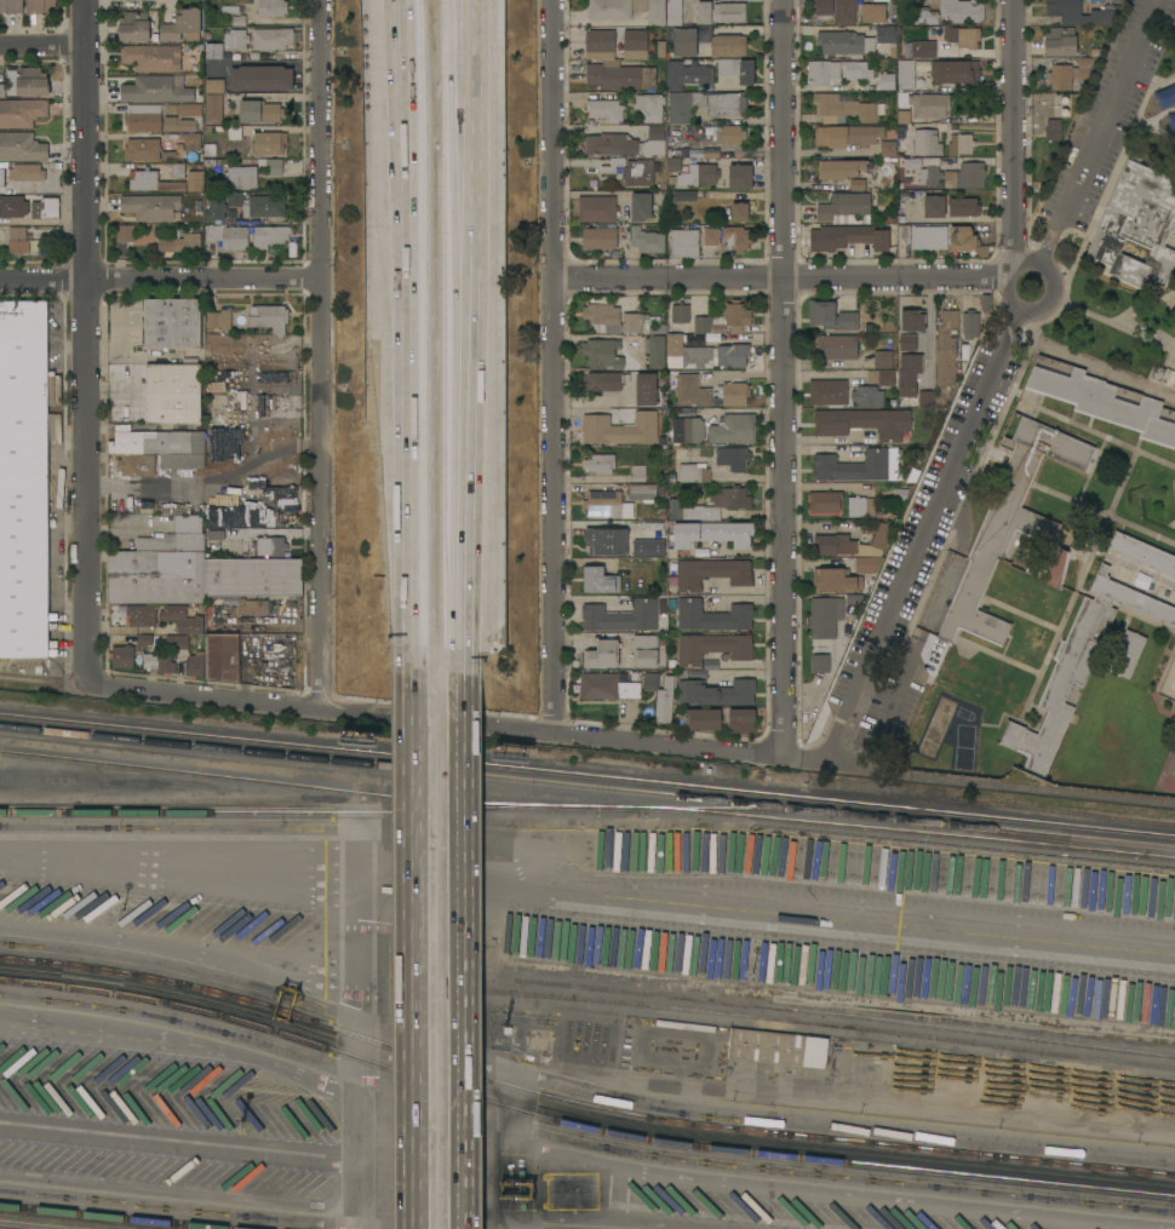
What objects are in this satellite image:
building: (640, 5)
building: (11, 6)
building: (39, 6)
building: (270, 7)
building: (609, 10)
building: (718, 11)
building: (835, 11)
building: (962, 11)
building: (657, 12)
building: (872, 12)
building: (1079, 12)
building: (924, 16)
building: (237, 21)
building: (134, 25)
building: (183, 25)
building: (681, 29)
building: (885, 34)
building: (964, 36)
building: (235, 38)
building: (274, 38)
building: (635, 39)
building: (600, 40)
building: (1060, 41)
building: (841, 42)
road: (42, 45)
building: (728, 45)
building: (929, 47)
building: (213, 50)
building: (150, 56)
building: (738, 69)
building: (856, 69)
building: (955, 70)
building: (822, 71)
building: (1082, 71)
building: (686, 74)
building: (905, 74)
building: (620, 76)
building: (1060, 76)
building: (262, 77)
building: (31, 81)
building: (887, 81)
building: (214, 85)
building: (155, 90)
building: (1163, 96)
building: (929, 104)
building: (649, 107)
building: (213, 108)
building: (727, 108)
building: (606, 109)
building: (842, 109)
building: (22, 111)
building: (259, 111)
building: (156, 114)
building: (902, 117)
building: (1170, 121)
building: (178, 124)
road: (402, 127)
road: (414, 127)
building: (1053, 128)
road: (458, 130)
road: (463, 131)
road: (1099, 132)
building: (729, 134)
building: (847, 134)
road: (1014, 137)
building: (187, 139)
building: (269, 142)
building: (927, 142)
building: (626, 143)
building: (961, 143)
building: (22, 147)
building: (888, 148)
building: (142, 149)
building: (672, 161)
building: (274, 166)
building: (841, 168)
building: (177, 171)
building: (929, 171)
building: (27, 172)
building: (638, 172)
building: (698, 174)
building: (965, 176)
building: (2, 177)
building: (240, 177)
building: (740, 177)
building: (195, 180)
building: (150, 182)
building: (861, 184)
building: (684, 195)
building: (916, 197)
building: (256, 205)
building: (12, 206)
building: (150, 206)
building: (641, 206)
building: (934, 206)
building: (963, 207)
building: (46, 208)
building: (216, 208)
building: (596, 208)
building: (846, 208)
building: (740, 211)
park: (1110, 213)
building: (1137, 224)
building: (126, 232)
building: (904, 232)
building: (269, 235)
building: (228, 236)
building: (711, 236)
building: (849, 236)
building: (929, 236)
building: (600, 237)
building: (736, 237)
building: (18, 240)
building: (647, 240)
building: (965, 240)
building: (180, 242)
building: (684, 242)
road: (783, 277)
road: (160, 280)
road: (1043, 309)
building: (680, 312)
building: (269, 316)
building: (831, 316)
building: (218, 318)
building: (617, 318)
building: (724, 320)
building: (910, 320)
building: (172, 323)
building: (971, 323)
road: (88, 340)
building: (837, 346)
building: (946, 348)
building: (654, 350)
building: (602, 352)
road: (321, 354)
building: (704, 354)
building: (883, 358)
road: (554, 367)
building: (1163, 374)
building: (882, 377)
road: (785, 378)
building: (603, 380)
building: (907, 384)
building: (646, 389)
building: (692, 390)
building: (827, 391)
building: (173, 392)
building: (733, 392)
building: (867, 396)
building: (925, 398)
building: (1104, 402)
building: (865, 423)
building: (620, 427)
building: (687, 429)
building: (734, 429)
building: (157, 442)
building: (733, 456)
building: (182, 460)
road: (412, 461)
building: (600, 463)
building: (137, 465)
building: (858, 465)
road: (460, 466)
building: (638, 472)
building: (693, 472)
building: (23, 478)
road: (147, 486)
building: (642, 492)
building: (825, 501)
building: (733, 502)
building: (606, 504)
building: (860, 506)
building: (1008, 523)
building: (648, 527)
building: (712, 533)
building: (606, 540)
building: (262, 541)
building: (854, 542)
building: (649, 547)
road: (911, 550)
building: (1142, 552)
building: (864, 564)
building: (193, 570)
building: (1050, 570)
building: (711, 573)
building: (600, 580)
building: (836, 580)
building: (254, 605)
building: (141, 615)
building: (711, 615)
building: (621, 616)
building: (825, 616)
building: (182, 619)
building: (144, 639)
building: (177, 642)
building: (712, 647)
building: (646, 649)
building: (1127, 653)
building: (602, 654)
building: (122, 655)
building: (222, 656)
building: (159, 661)
building: (820, 662)
building: (194, 667)
building: (1076, 667)
building: (607, 685)
building: (718, 691)
building: (660, 695)
building: (704, 718)
building: (741, 719)
road: (439, 720)
railway: (587, 775)
railway: (233, 777)
railway: (587, 787)
railway: (1013, 805)
railway: (587, 808)
railway: (762, 809)
railway: (1051, 840)
road: (587, 891)
road: (413, 948)
road: (457, 949)
railway: (789, 1013)
railway: (842, 1015)
railway: (808, 1022)
building: (776, 1047)
petroleum well: (945, 1059)
petroleum well: (929, 1068)
petroleum well: (1022, 1072)
petroleum well: (1041, 1076)
petroleum well: (959, 1079)
petroleum well: (1064, 1085)
railway: (579, 1104)
railway: (579, 1126)
railway: (115, 1217)
railway: (10, 1228)

